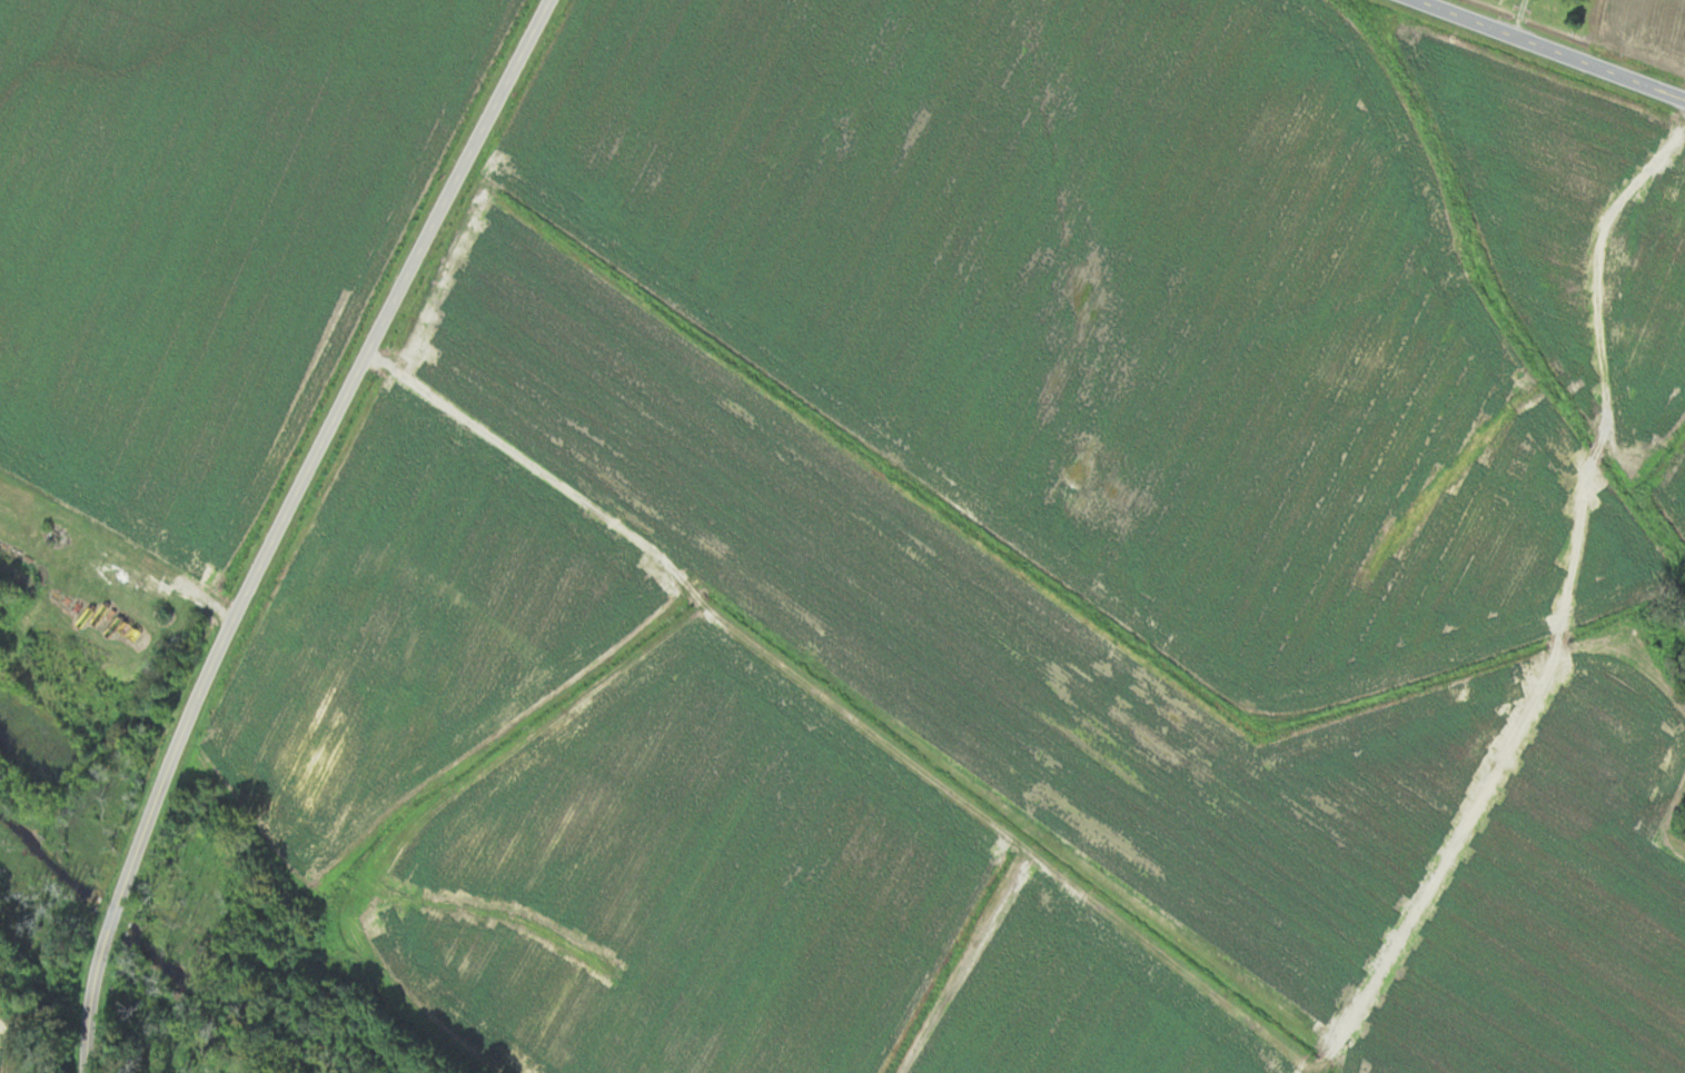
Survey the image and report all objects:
road: (1544, 52)
road: (284, 525)

